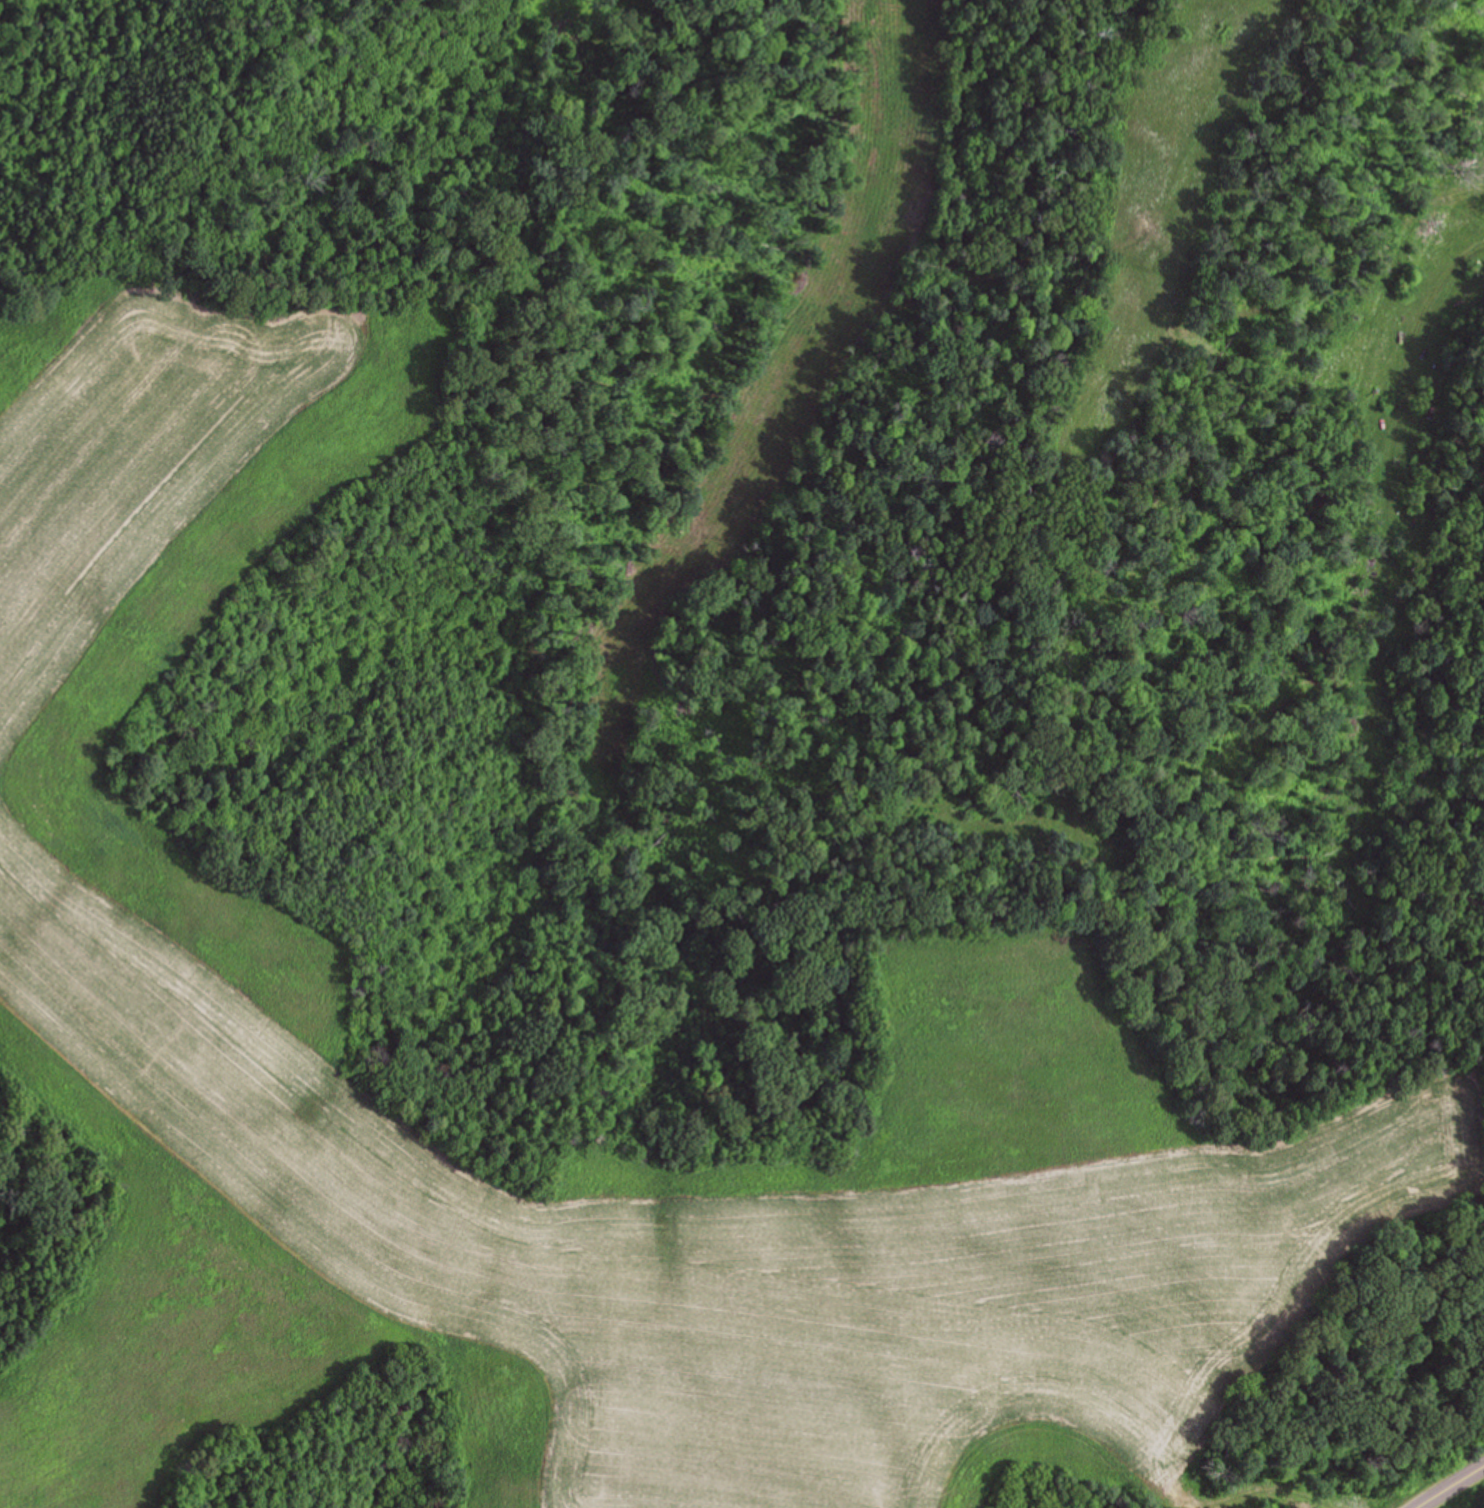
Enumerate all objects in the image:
crop: (1478, 65)
crop: (1169, 201)
crop: (63, 832)
road: (1454, 1487)

